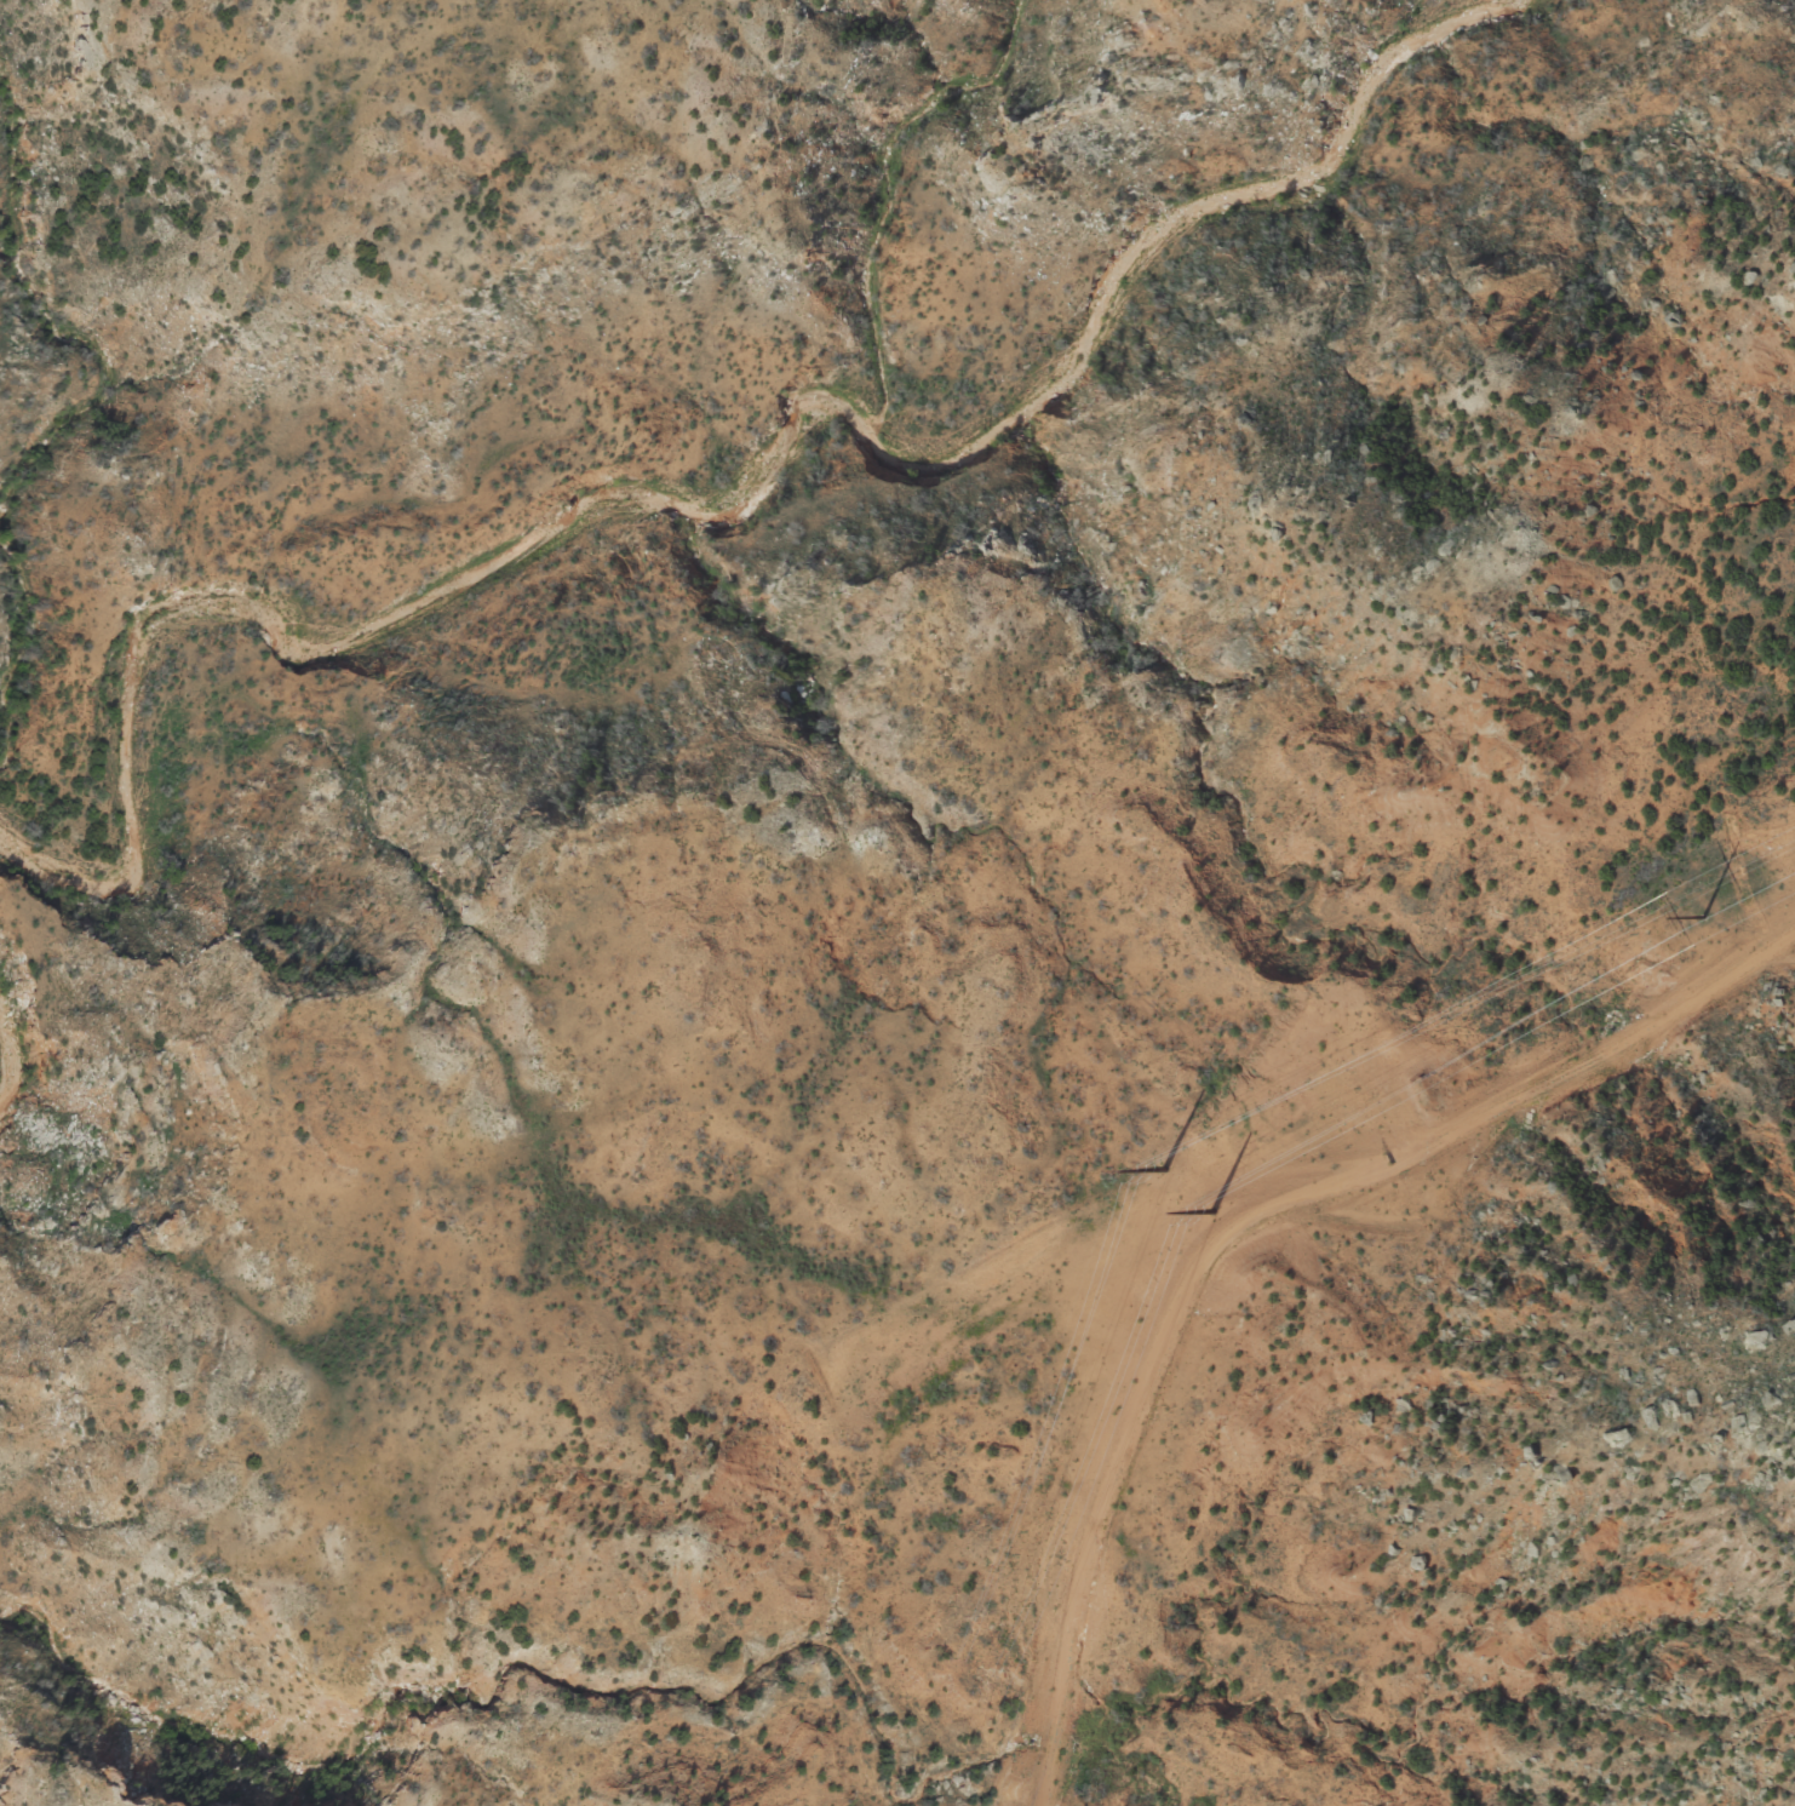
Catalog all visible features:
power tower: (1701, 921)
power tower: (1187, 1191)

